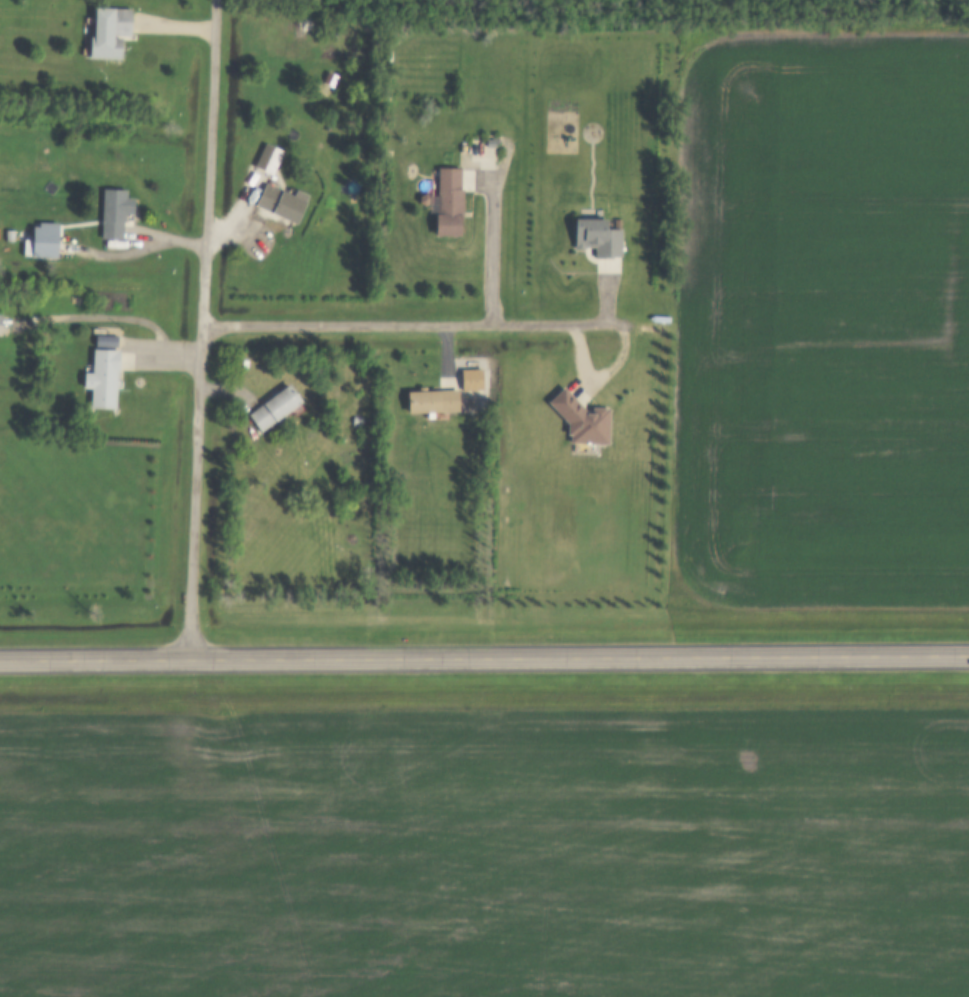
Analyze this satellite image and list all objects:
building: (108, 33)
building: (354, 36)
building: (267, 156)
building: (447, 200)
building: (280, 201)
building: (113, 211)
building: (596, 235)
building: (43, 238)
road: (140, 248)
road: (490, 249)
crop: (820, 317)
building: (0, 324)
road: (407, 324)
road: (199, 328)
building: (102, 375)
building: (470, 377)
building: (430, 399)
building: (273, 407)
building: (581, 418)
building: (354, 420)
road: (484, 656)
crop: (485, 851)

